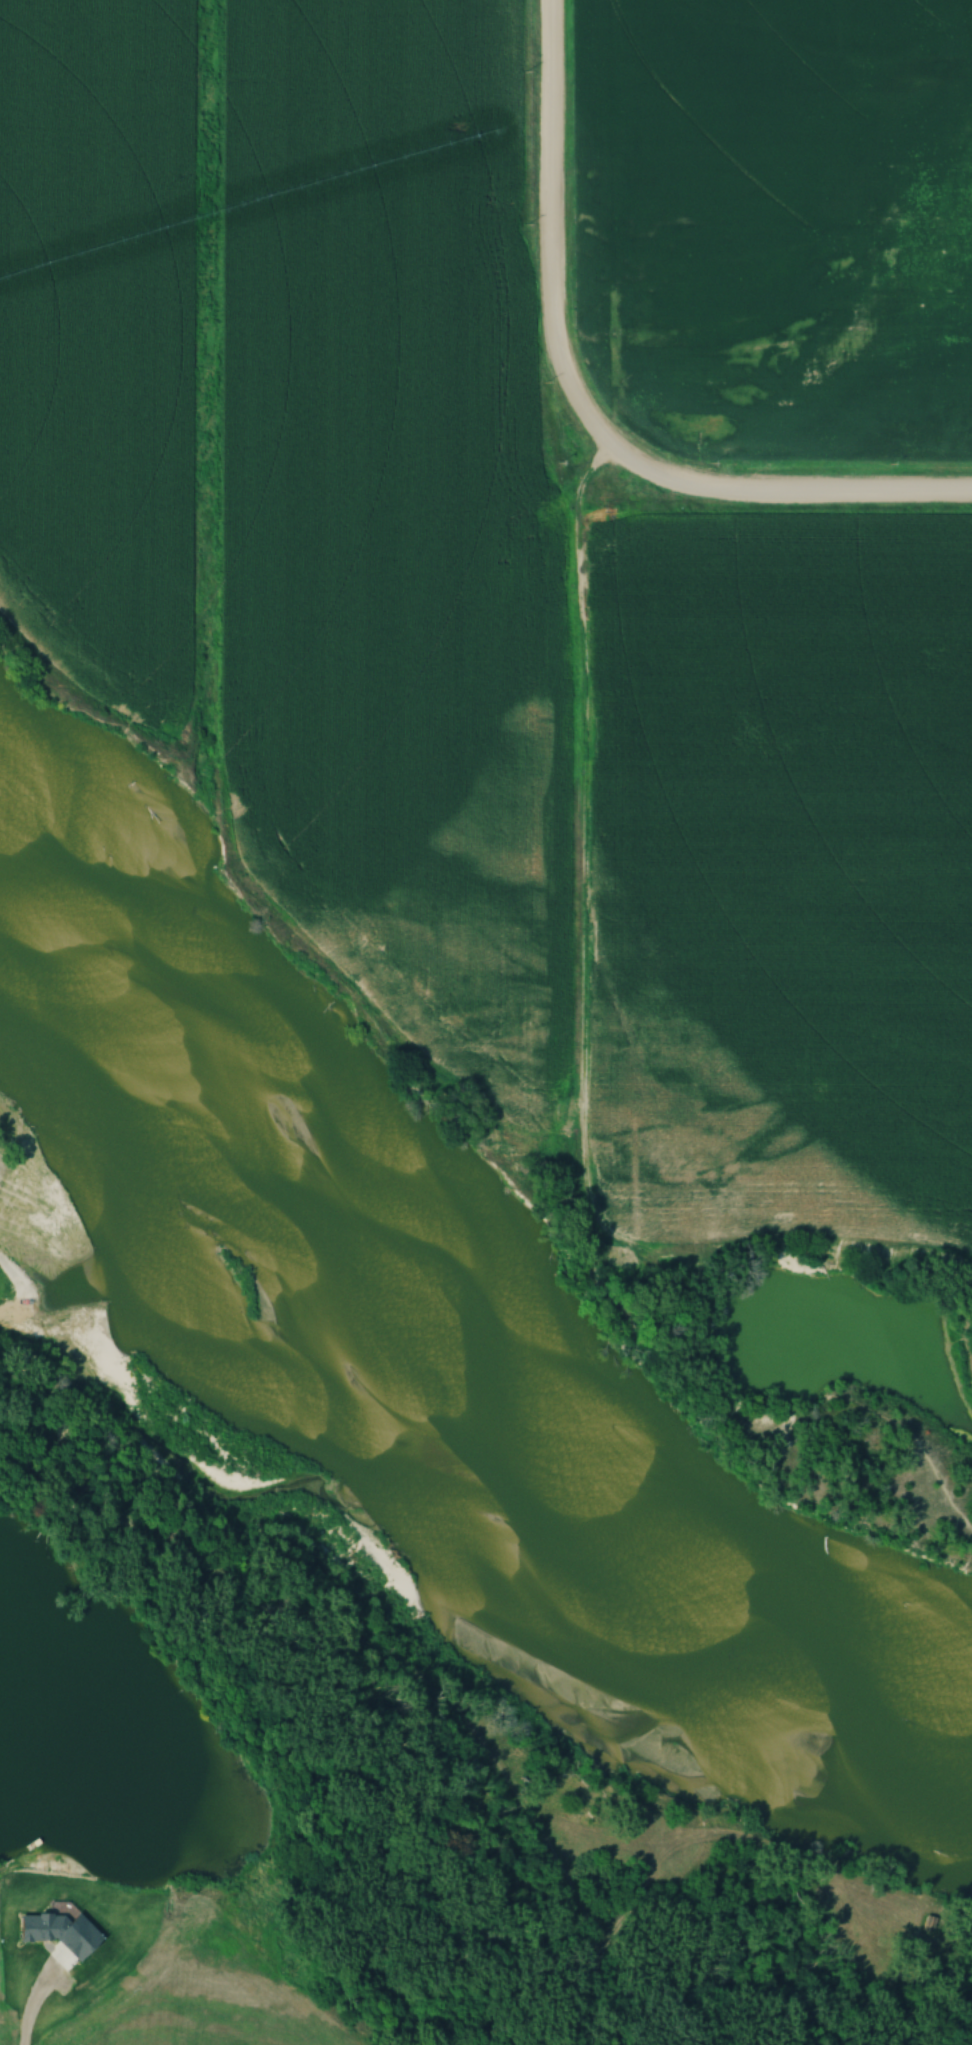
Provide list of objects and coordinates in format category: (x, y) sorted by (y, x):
road: (582, 411)
river: (429, 1318)
park: (803, 1371)

